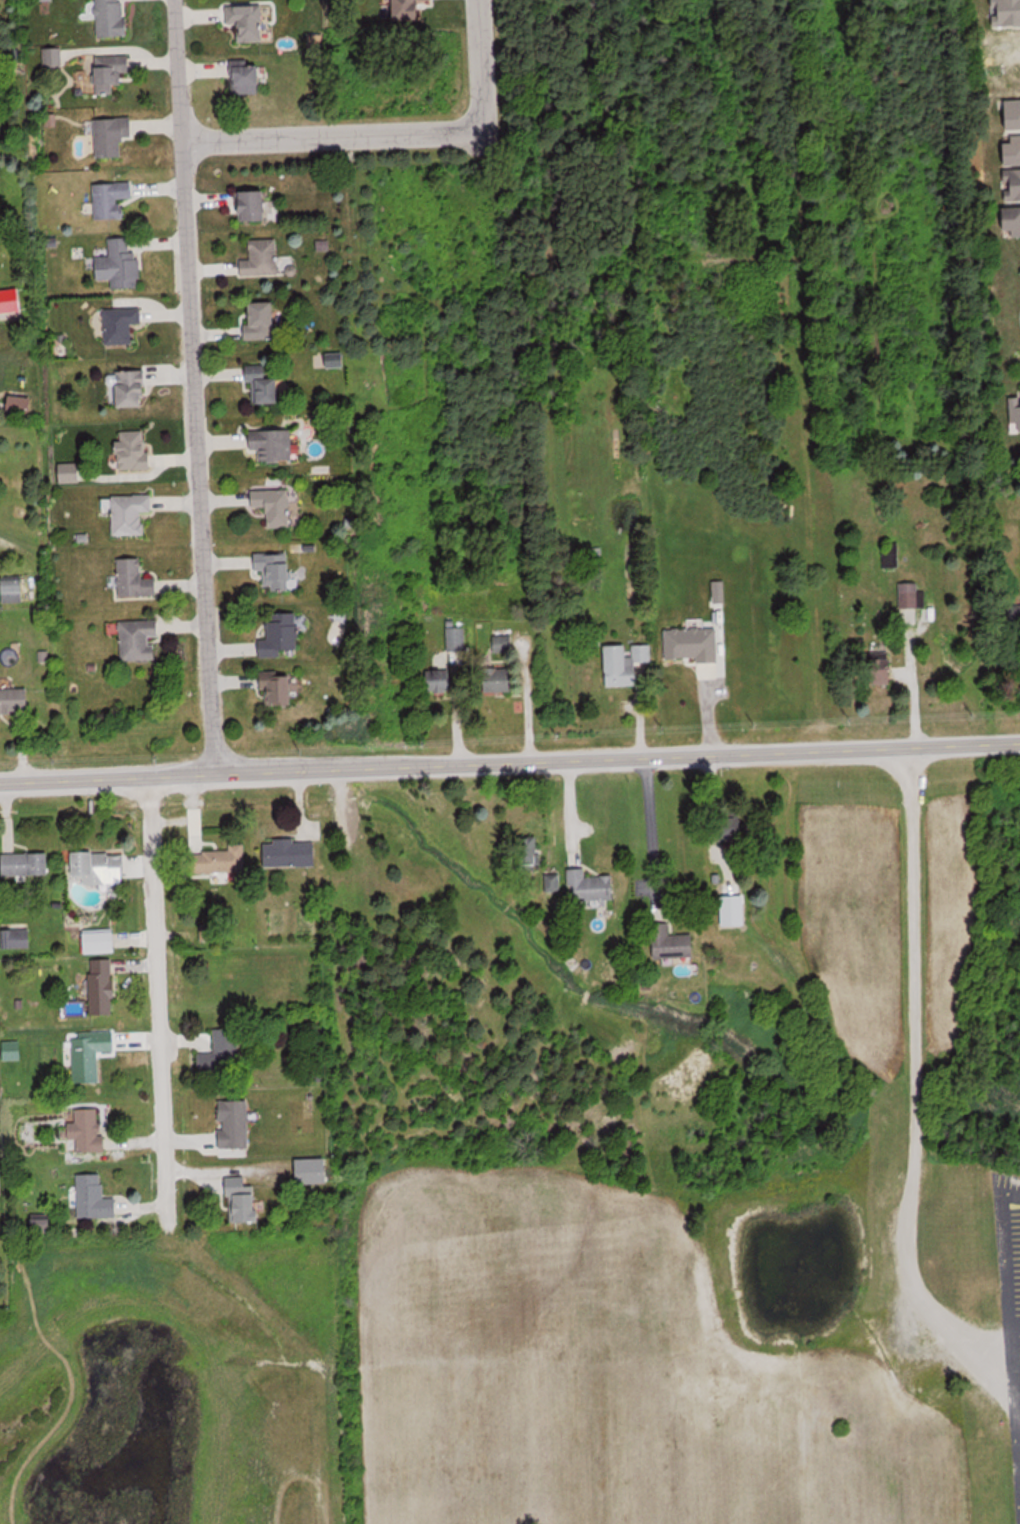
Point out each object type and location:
building: (408, 9)
building: (110, 17)
building: (247, 20)
building: (52, 57)
building: (111, 71)
building: (247, 76)
building: (1014, 113)
road: (392, 133)
building: (112, 135)
building: (1014, 148)
building: (1013, 183)
building: (111, 198)
building: (253, 204)
building: (1014, 220)
building: (261, 257)
building: (120, 263)
building: (262, 320)
building: (121, 323)
building: (263, 384)
road: (193, 385)
building: (130, 386)
building: (20, 404)
building: (1016, 411)
building: (273, 444)
building: (135, 449)
building: (274, 505)
building: (130, 513)
building: (596, 554)
building: (275, 569)
building: (135, 578)
building: (13, 590)
building: (908, 594)
building: (281, 635)
building: (456, 638)
building: (139, 639)
building: (501, 642)
building: (625, 662)
building: (500, 679)
building: (439, 680)
building: (279, 689)
building: (14, 700)
road: (510, 759)
building: (290, 853)
building: (218, 860)
building: (25, 864)
building: (100, 866)
building: (553, 882)
building: (592, 885)
building: (18, 937)
building: (101, 941)
building: (673, 942)
building: (102, 985)
road: (150, 994)
building: (12, 1049)
building: (90, 1053)
building: (221, 1054)
building: (234, 1124)
building: (88, 1130)
building: (311, 1170)
building: (94, 1197)
building: (243, 1200)
building: (319, 1501)

